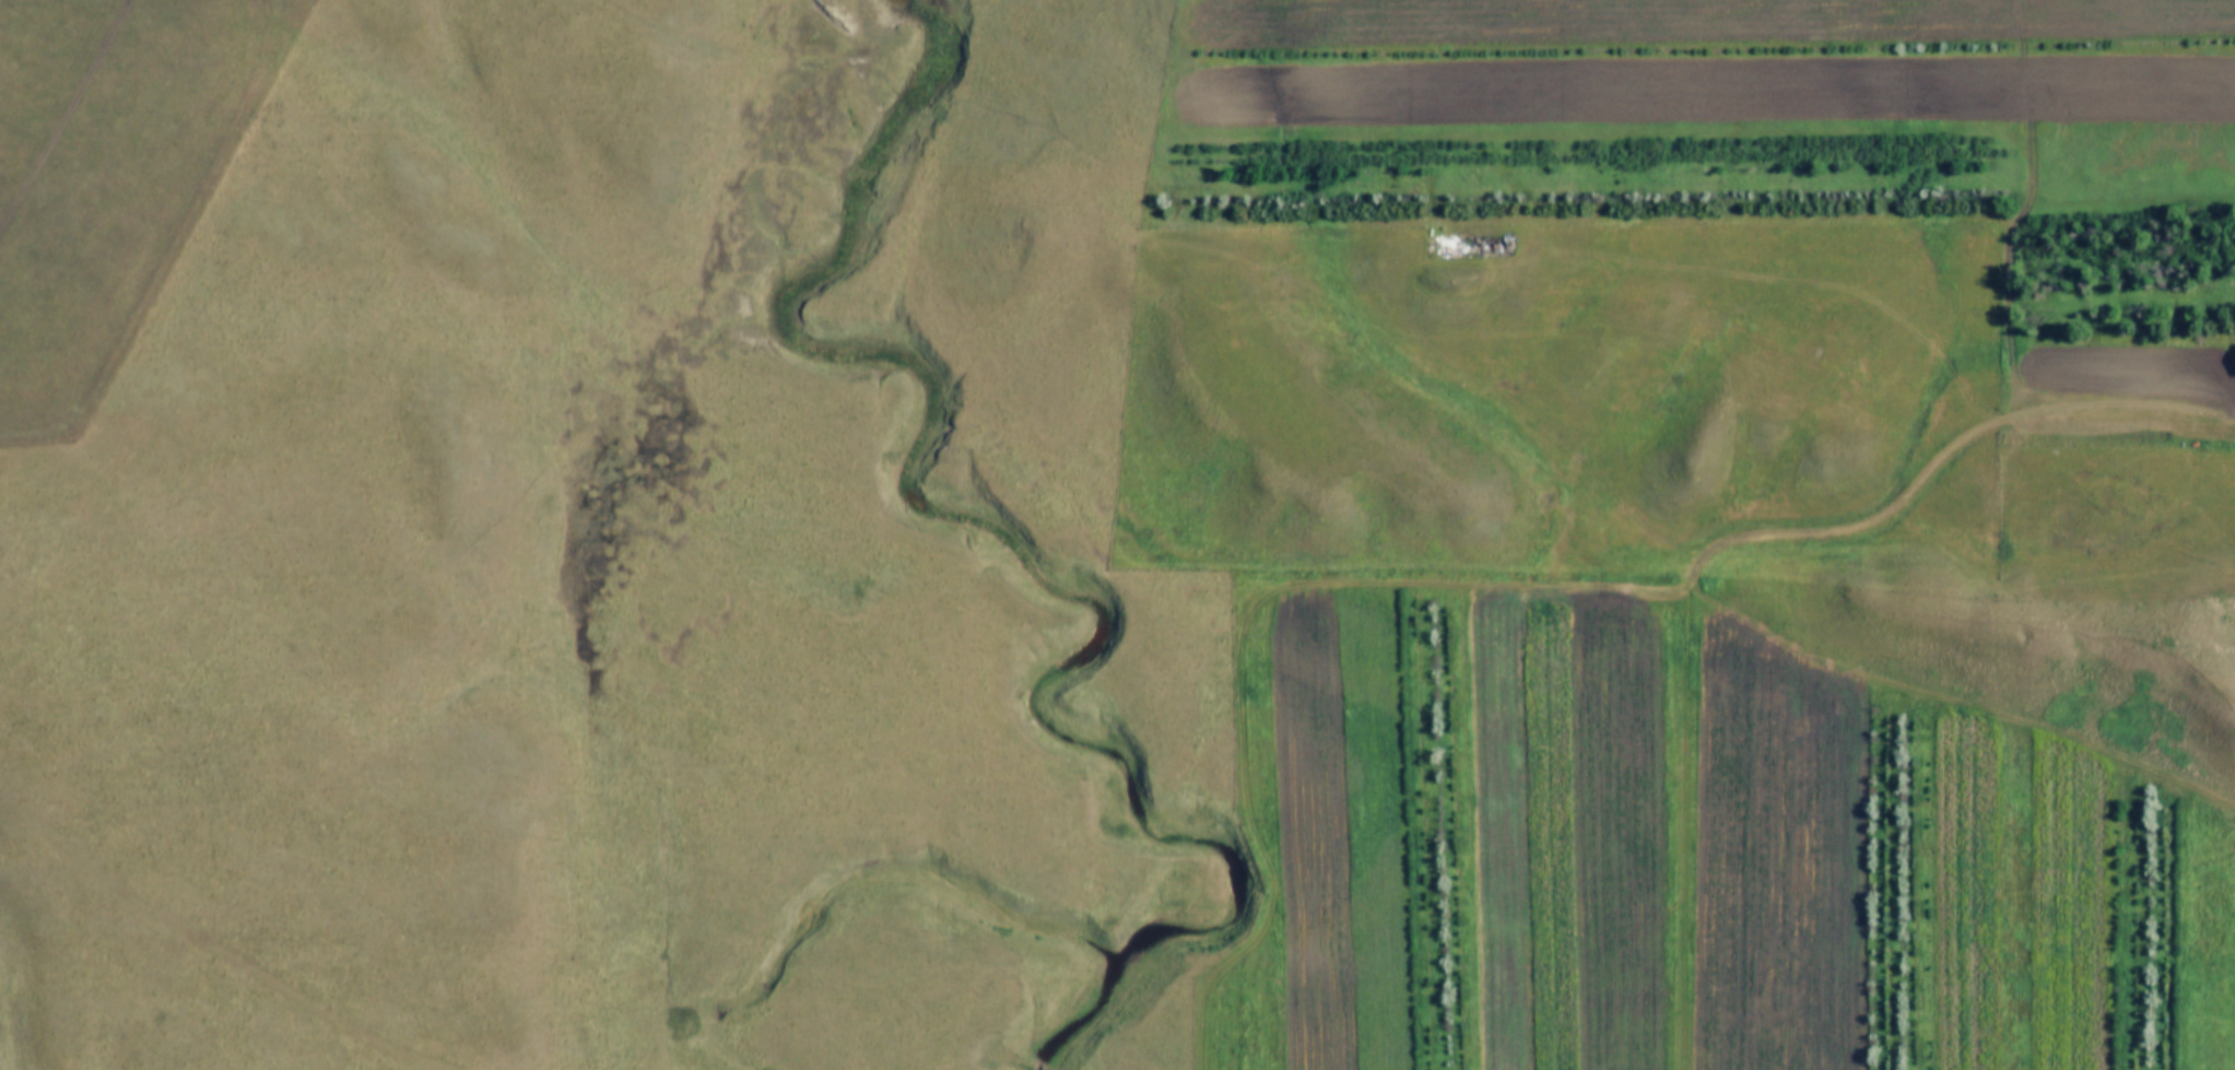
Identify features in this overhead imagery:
road: (2021, 210)
road: (1948, 461)

